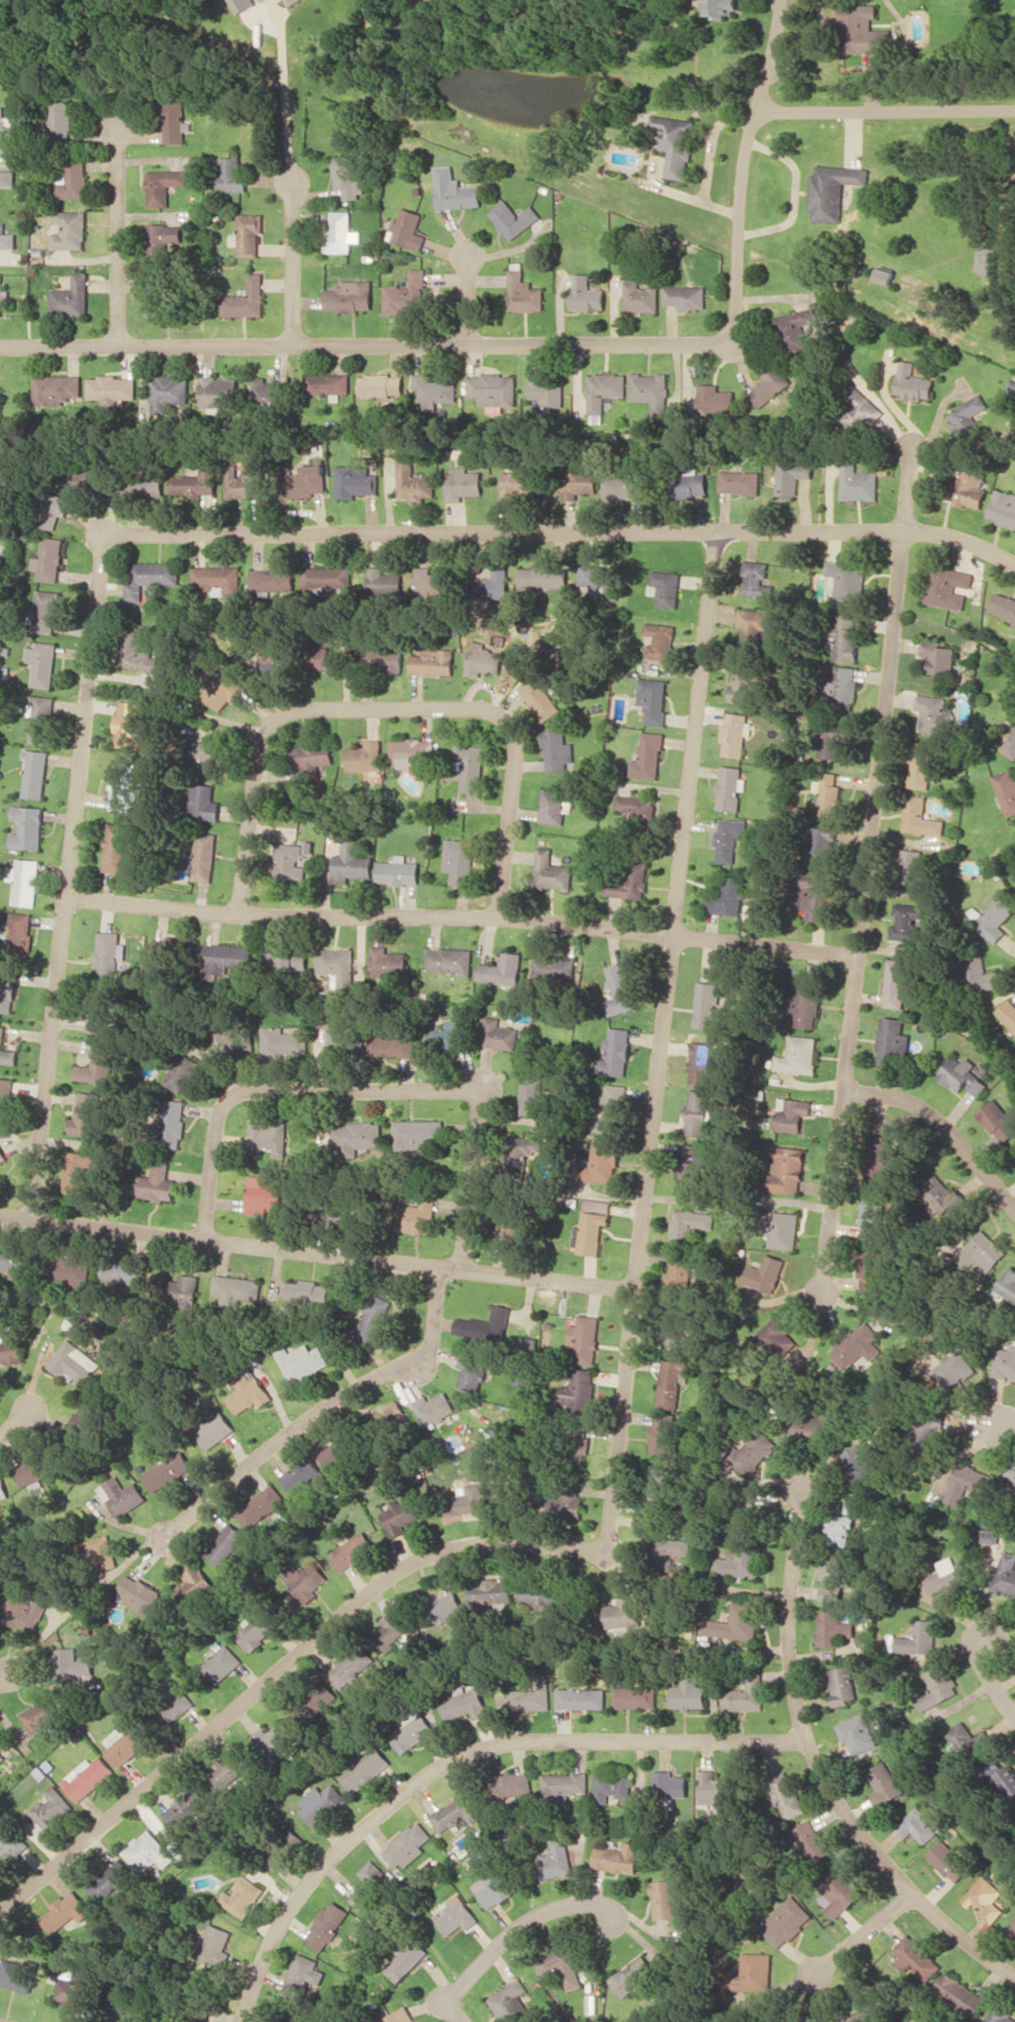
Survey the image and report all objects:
building: (262, 0)
building: (291, 1)
building: (242, 4)
building: (721, 7)
building: (862, 28)
road: (885, 110)
building: (62, 121)
building: (6, 132)
building: (675, 144)
road: (742, 166)
building: (232, 174)
building: (347, 175)
building: (7, 178)
building: (73, 178)
building: (164, 185)
building: (832, 189)
building: (457, 194)
building: (513, 218)
building: (406, 229)
building: (70, 230)
building: (248, 233)
building: (340, 233)
road: (117, 236)
building: (166, 238)
building: (6, 239)
road: (293, 260)
building: (987, 260)
building: (884, 275)
building: (523, 291)
building: (406, 293)
building: (585, 293)
building: (1, 294)
building: (156, 294)
building: (349, 295)
building: (640, 295)
building: (685, 296)
building: (72, 297)
building: (247, 299)
road: (468, 300)
building: (999, 303)
building: (796, 327)
road: (364, 342)
building: (913, 382)
building: (327, 383)
building: (382, 385)
building: (770, 386)
building: (112, 388)
building: (494, 388)
building: (58, 389)
building: (170, 389)
building: (650, 389)
building: (436, 390)
building: (546, 390)
building: (604, 390)
building: (219, 391)
building: (269, 392)
building: (715, 399)
building: (1, 404)
building: (859, 407)
building: (967, 415)
building: (792, 476)
building: (83, 477)
building: (857, 479)
building: (252, 480)
building: (304, 481)
building: (355, 481)
building: (413, 481)
building: (739, 481)
building: (579, 482)
building: (146, 483)
building: (197, 483)
building: (462, 483)
building: (514, 484)
building: (683, 485)
building: (623, 487)
building: (968, 488)
building: (1003, 507)
building: (55, 509)
building: (1, 529)
road: (867, 531)
building: (49, 559)
building: (542, 576)
building: (151, 577)
building: (326, 577)
building: (216, 578)
building: (272, 578)
building: (596, 578)
building: (755, 579)
building: (847, 579)
building: (430, 580)
building: (383, 581)
building: (492, 584)
building: (947, 586)
building: (665, 588)
building: (1004, 606)
building: (45, 611)
building: (754, 620)
building: (846, 638)
building: (660, 640)
building: (322, 649)
building: (138, 651)
building: (937, 657)
building: (385, 658)
building: (434, 661)
building: (484, 662)
building: (42, 663)
building: (743, 682)
building: (844, 686)
building: (226, 691)
building: (539, 698)
building: (653, 700)
road: (389, 706)
building: (932, 713)
building: (40, 718)
building: (734, 734)
building: (831, 739)
building: (1010, 745)
building: (558, 750)
building: (414, 752)
building: (210, 755)
building: (648, 756)
building: (312, 758)
building: (363, 758)
road: (692, 761)
building: (922, 765)
building: (469, 766)
building: (35, 772)
building: (122, 785)
building: (731, 787)
building: (1006, 789)
building: (830, 795)
building: (205, 803)
building: (635, 805)
building: (554, 806)
building: (921, 817)
building: (27, 827)
building: (729, 838)
building: (823, 842)
building: (116, 847)
building: (205, 856)
building: (290, 860)
building: (459, 860)
building: (350, 862)
building: (913, 867)
building: (398, 871)
building: (552, 871)
road: (867, 872)
building: (24, 881)
building: (628, 882)
building: (816, 894)
building: (730, 897)
road: (462, 916)
building: (993, 918)
building: (906, 920)
building: (19, 935)
building: (175, 952)
building: (108, 954)
building: (229, 956)
building: (288, 958)
building: (450, 959)
building: (389, 961)
building: (337, 965)
building: (555, 967)
building: (501, 969)
building: (981, 972)
building: (898, 983)
building: (7, 989)
building: (620, 989)
building: (807, 1002)
building: (707, 1006)
building: (1008, 1012)
building: (95, 1017)
building: (499, 1034)
building: (450, 1037)
building: (235, 1040)
building: (893, 1040)
building: (283, 1042)
building: (397, 1046)
building: (6, 1050)
building: (616, 1052)
building: (799, 1055)
building: (702, 1064)
building: (97, 1066)
building: (182, 1072)
building: (963, 1075)
road: (367, 1090)
building: (4, 1093)
building: (533, 1097)
building: (610, 1109)
building: (698, 1112)
building: (793, 1113)
building: (86, 1115)
building: (998, 1119)
building: (174, 1123)
road: (945, 1124)
building: (417, 1133)
building: (270, 1136)
building: (356, 1137)
building: (2, 1157)
building: (882, 1160)
building: (601, 1163)
building: (690, 1165)
building: (786, 1170)
building: (77, 1172)
building: (156, 1183)
building: (941, 1193)
building: (264, 1194)
building: (419, 1216)
building: (872, 1217)
building: (689, 1224)
building: (593, 1226)
building: (509, 1228)
building: (781, 1228)
road: (316, 1252)
building: (981, 1252)
building: (13, 1262)
building: (70, 1270)
building: (870, 1270)
building: (124, 1273)
building: (766, 1273)
building: (682, 1276)
building: (1008, 1284)
building: (237, 1289)
building: (184, 1290)
building: (313, 1292)
building: (375, 1318)
building: (79, 1324)
building: (483, 1326)
building: (675, 1331)
building: (777, 1335)
building: (584, 1340)
building: (857, 1346)
building: (11, 1352)
building: (75, 1362)
building: (304, 1362)
building: (1005, 1362)
building: (472, 1372)
building: (958, 1374)
building: (670, 1382)
building: (579, 1391)
building: (248, 1392)
building: (435, 1407)
road: (321, 1409)
building: (391, 1416)
road: (14, 1422)
road: (1003, 1422)
building: (927, 1426)
building: (214, 1429)
building: (815, 1429)
building: (663, 1433)
building: (575, 1441)
building: (339, 1451)
building: (753, 1452)
building: (861, 1463)
building: (168, 1471)
building: (1010, 1474)
building: (303, 1477)
building: (967, 1482)
building: (656, 1489)
building: (3, 1490)
building: (122, 1495)
building: (468, 1500)
building: (565, 1504)
building: (261, 1506)
building: (399, 1515)
building: (991, 1521)
building: (840, 1529)
building: (990, 1536)
building: (225, 1544)
building: (353, 1550)
building: (101, 1551)
building: (670, 1554)
building: (742, 1561)
building: (1006, 1574)
building: (834, 1575)
building: (947, 1576)
building: (308, 1580)
building: (196, 1583)
building: (491, 1593)
building: (139, 1594)
building: (542, 1594)
building: (446, 1606)
building: (26, 1610)
building: (623, 1612)
building: (736, 1622)
building: (260, 1627)
building: (836, 1628)
building: (395, 1631)
building: (921, 1638)
building: (222, 1663)
building: (72, 1664)
building: (351, 1666)
road: (990, 1675)
road: (4, 1676)
building: (844, 1684)
building: (939, 1686)
building: (746, 1691)
building: (688, 1694)
building: (532, 1695)
building: (634, 1697)
building: (581, 1698)
building: (311, 1701)
building: (465, 1703)
building: (179, 1705)
building: (42, 1715)
building: (413, 1732)
building: (859, 1733)
building: (274, 1739)
building: (2, 1740)
building: (129, 1744)
road: (458, 1757)
road: (817, 1758)
building: (366, 1769)
building: (227, 1773)
building: (87, 1777)
building: (1007, 1778)
building: (670, 1783)
building: (514, 1784)
building: (564, 1784)
building: (885, 1784)
building: (613, 1785)
building: (715, 1789)
building: (786, 1794)
building: (322, 1802)
building: (52, 1807)
building: (184, 1807)
building: (459, 1811)
building: (918, 1824)
building: (811, 1841)
building: (408, 1845)
building: (9, 1848)
building: (283, 1849)
building: (148, 1851)
building: (619, 1857)
building: (557, 1858)
building: (949, 1860)
building: (112, 1880)
building: (371, 1883)
building: (499, 1884)
building: (839, 1892)
building: (243, 1896)
building: (668, 1897)
building: (985, 1898)
building: (66, 1911)
building: (456, 1915)
building: (786, 1920)
building: (328, 1925)
building: (1011, 1931)
road: (861, 1933)
road: (510, 1936)
building: (216, 1944)
building: (916, 1957)
building: (406, 1960)
building: (562, 1967)
building: (753, 1972)
building: (18, 1974)
building: (635, 1976)
building: (304, 1977)
building: (77, 1989)
building: (124, 1991)
building: (959, 1993)
building: (512, 2002)
building: (400, 2016)
building: (865, 2016)
building: (998, 2016)

